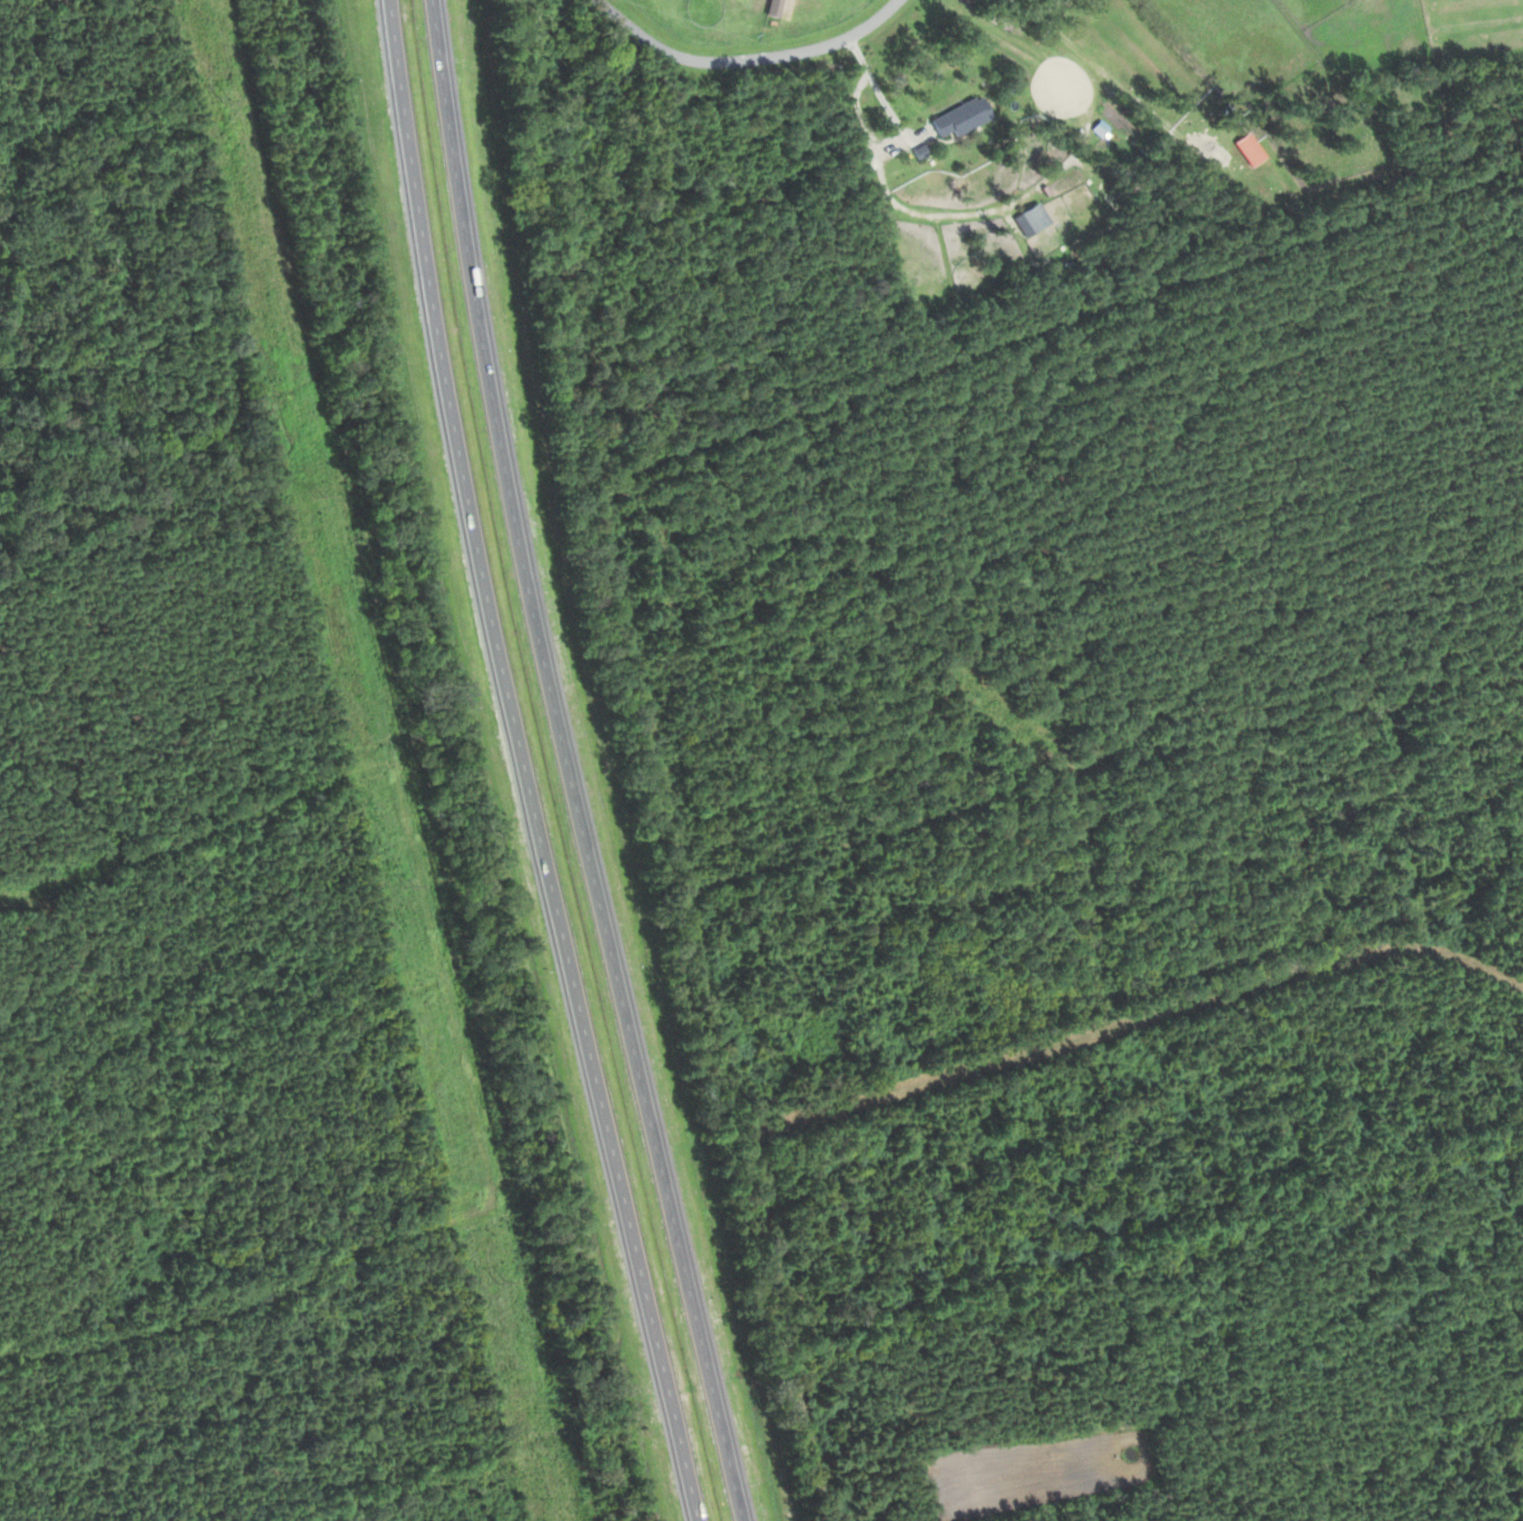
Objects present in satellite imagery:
road: (744, 58)
road: (874, 83)
power tower: (226, 99)
building: (958, 116)
building: (1247, 149)
road: (897, 202)
building: (1032, 216)
power tower: (317, 495)
road: (523, 764)
road: (567, 764)
power tower: (405, 883)
road: (1122, 1030)
power tower: (499, 1279)

